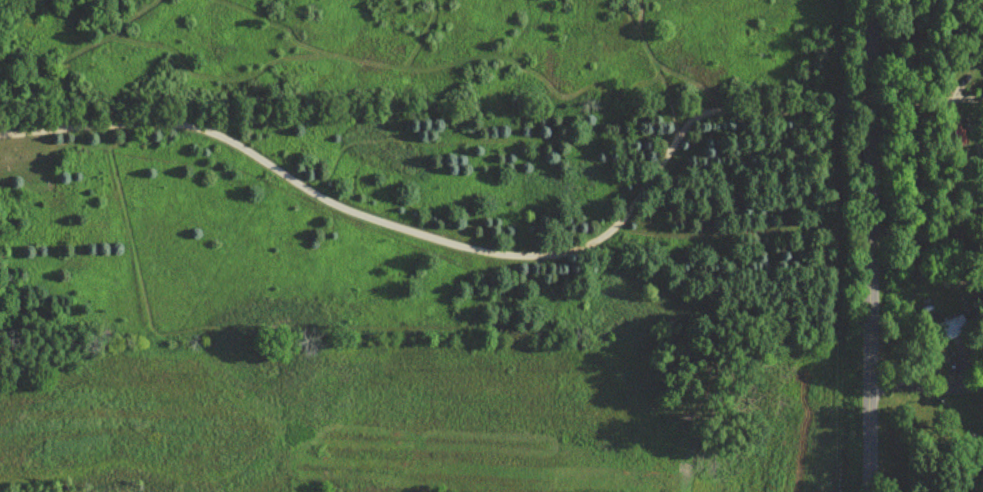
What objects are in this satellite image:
building: (954, 134)
road: (865, 246)
building: (951, 328)
road: (923, 386)

